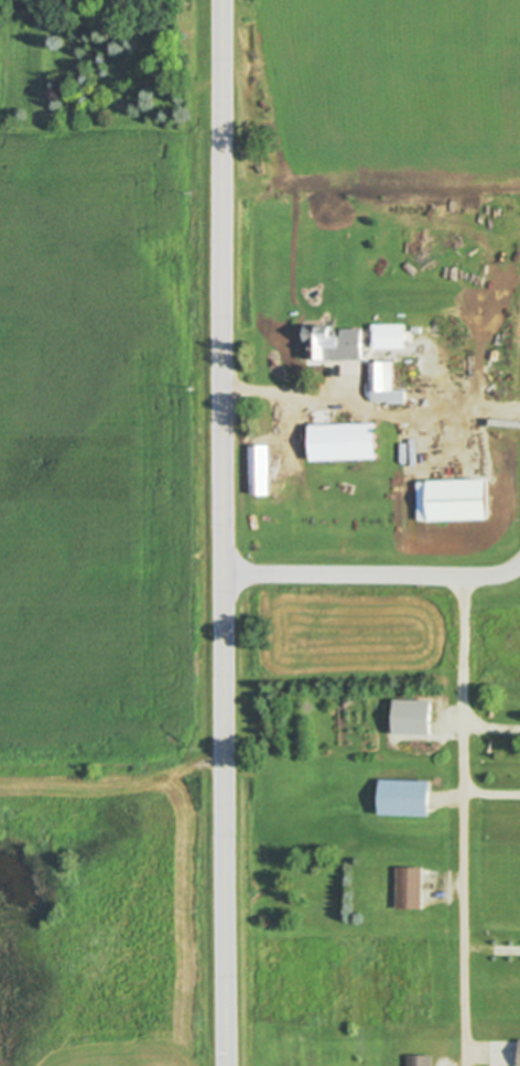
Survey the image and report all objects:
building: (387, 337)
building: (332, 345)
building: (382, 386)
road: (289, 394)
road: (434, 417)
building: (340, 443)
building: (258, 472)
building: (448, 502)
road: (224, 532)
road: (373, 573)
building: (410, 719)
road: (492, 726)
road: (492, 795)
building: (401, 799)
road: (465, 820)
building: (408, 890)
road: (492, 950)
building: (518, 1053)
building: (418, 1062)

